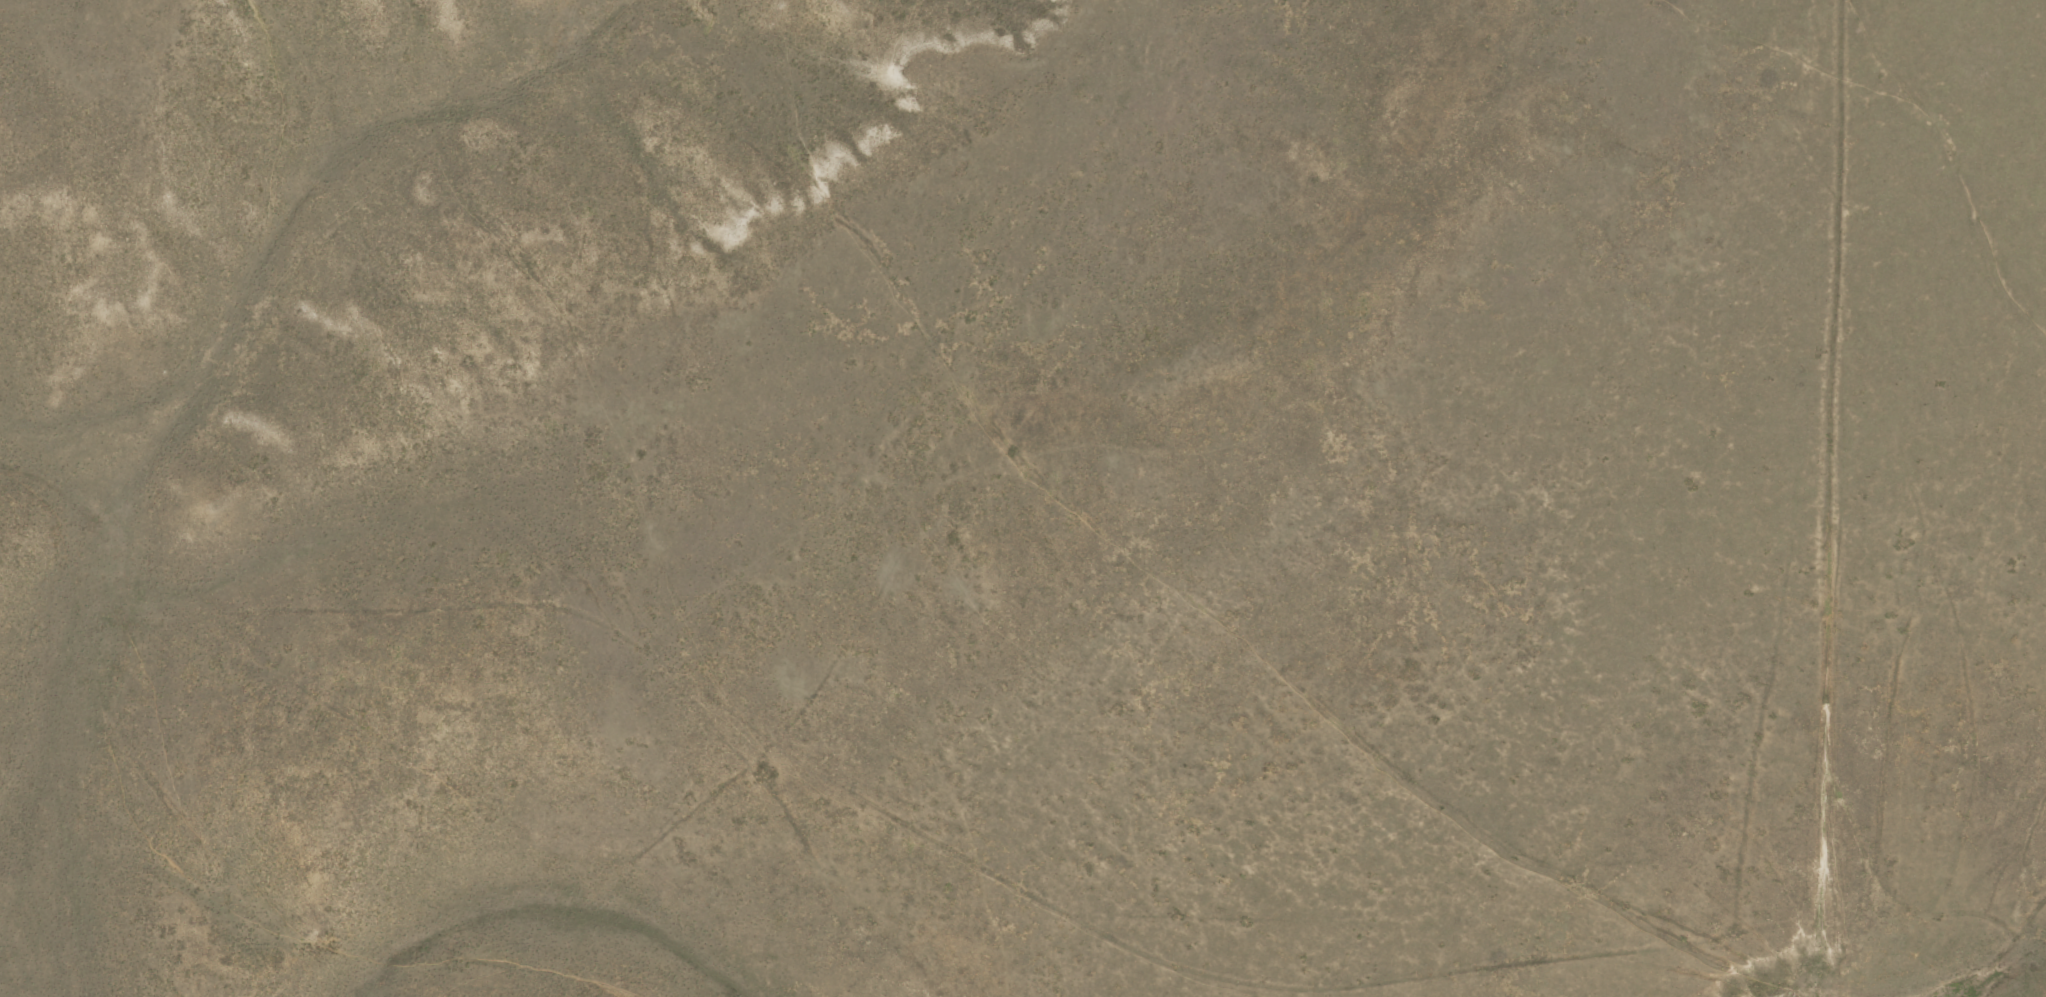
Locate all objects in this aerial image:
road: (1773, 618)

